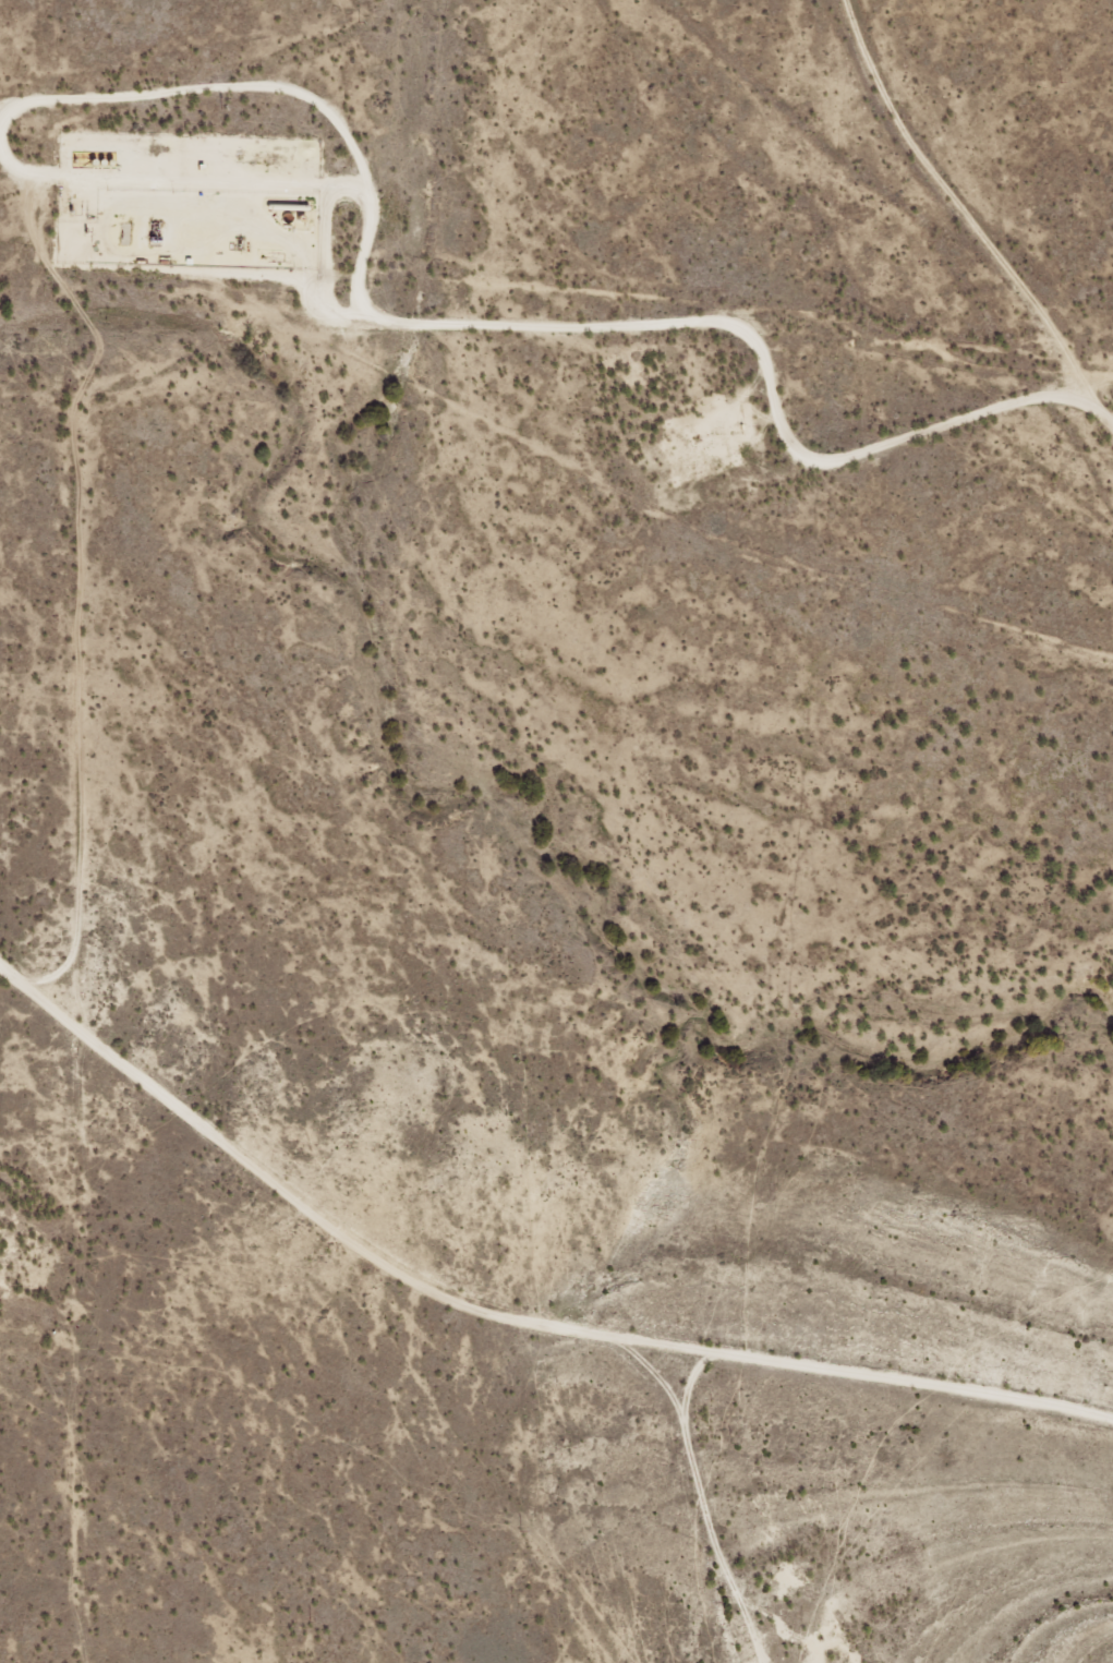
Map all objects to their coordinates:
road: (983, 190)
road: (535, 1278)

